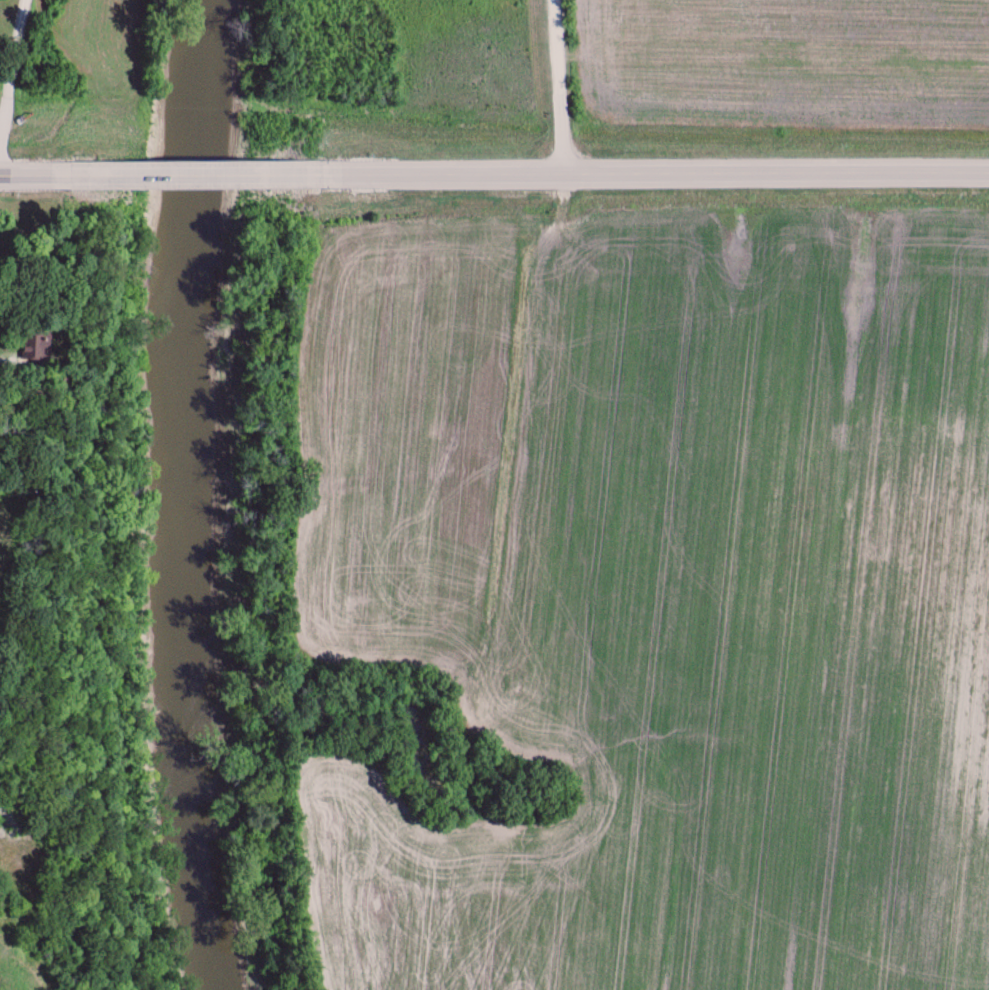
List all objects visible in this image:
road: (16, 76)
road: (32, 176)
road: (203, 176)
road: (665, 177)

